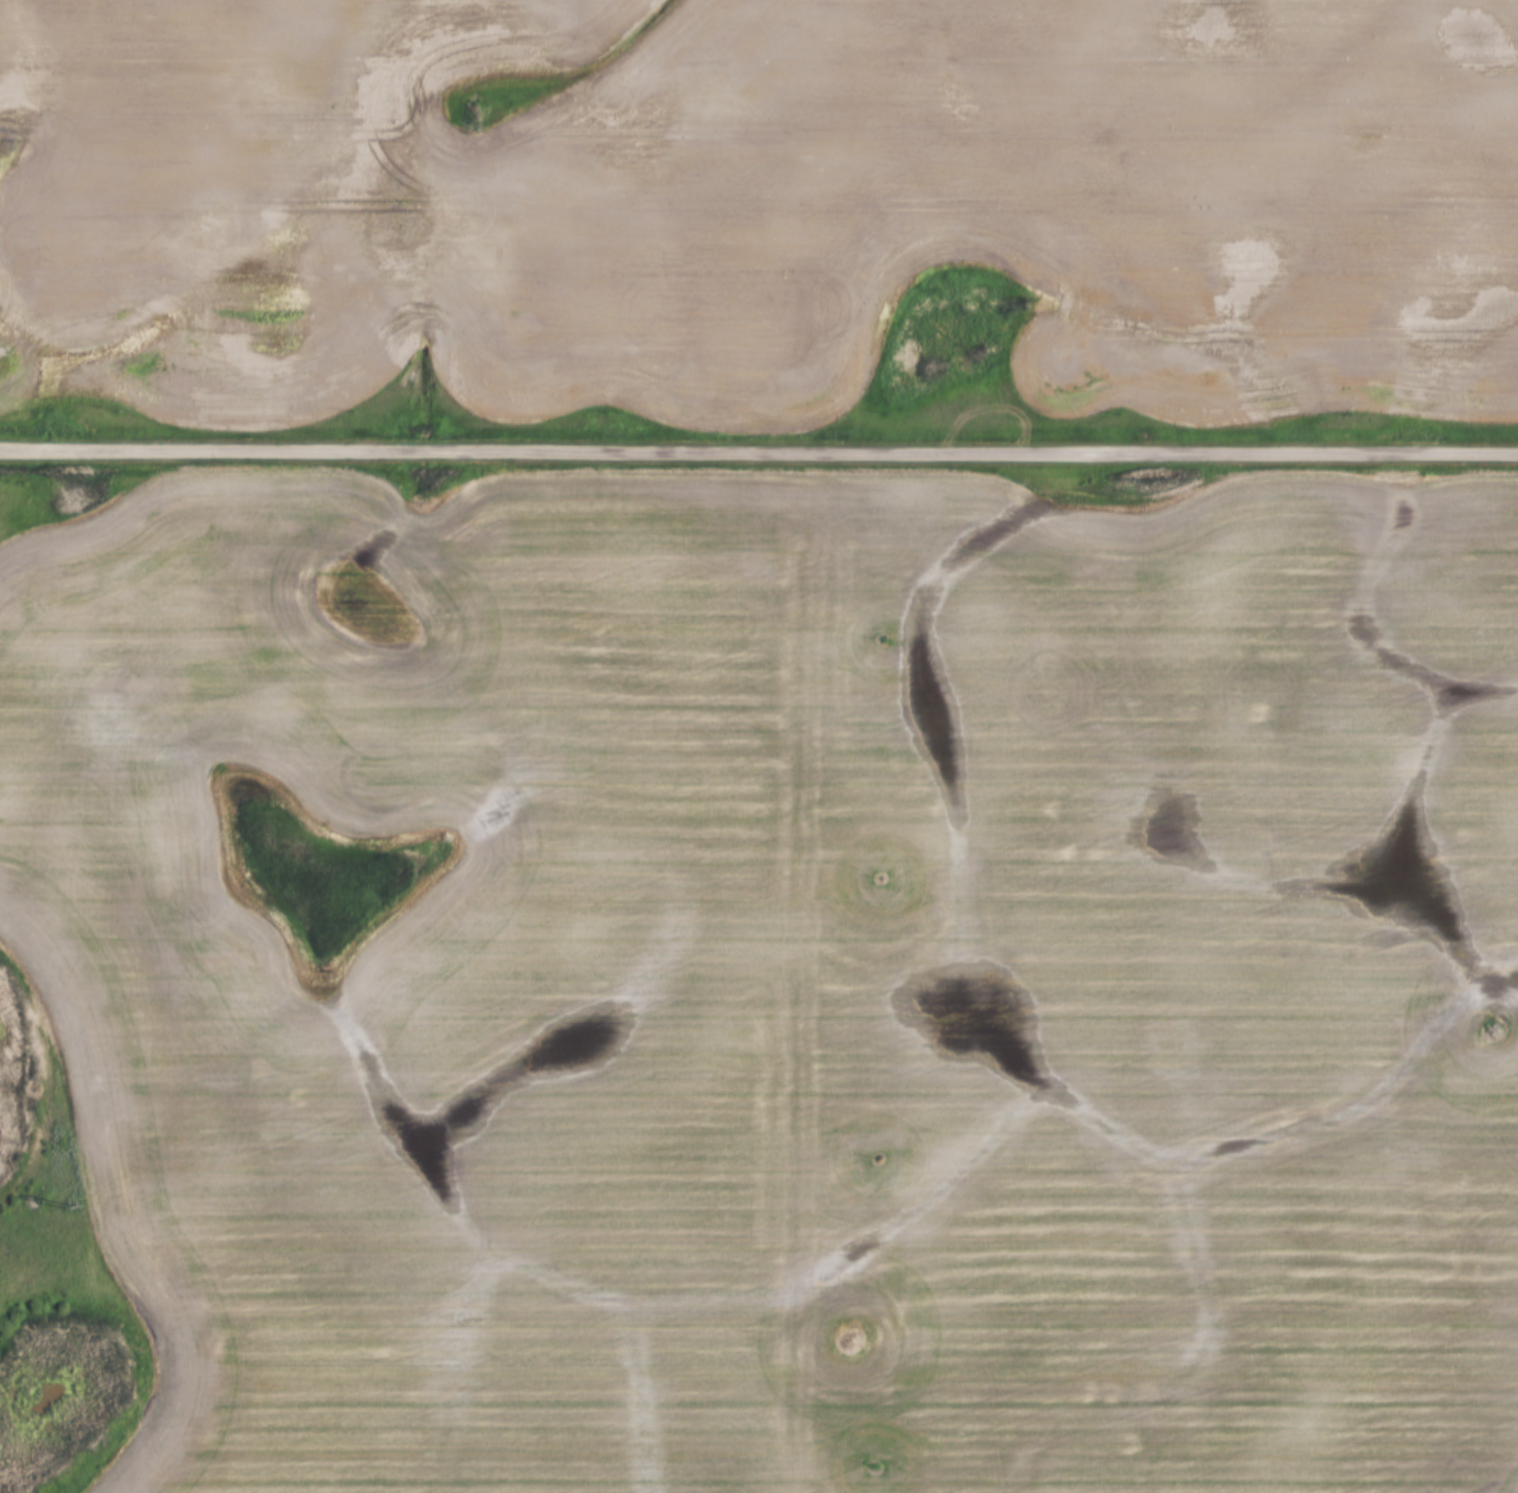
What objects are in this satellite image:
road: (758, 452)

